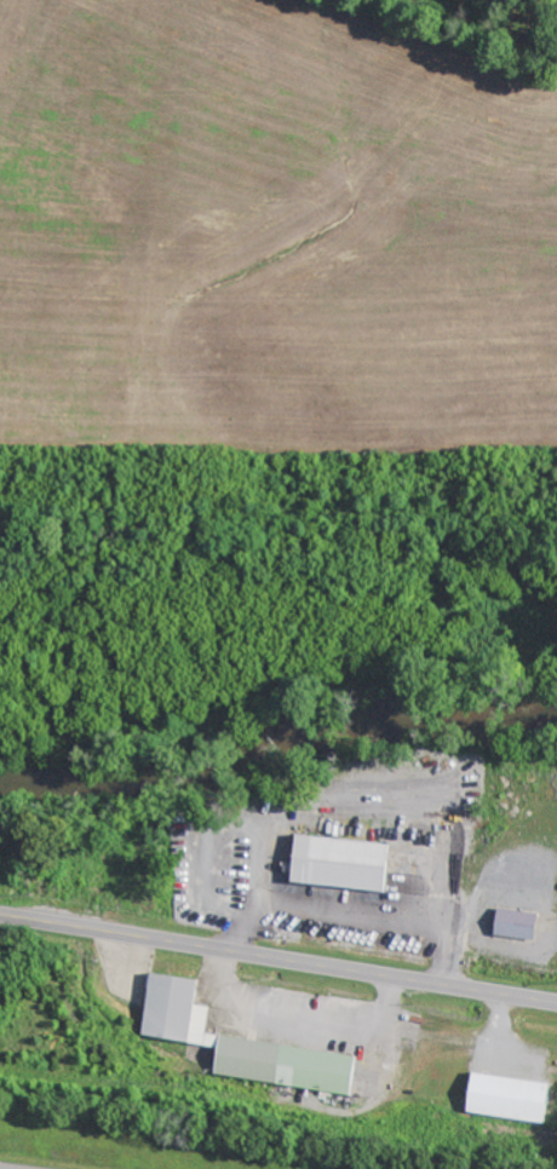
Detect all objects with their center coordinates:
building: (338, 863)
building: (513, 923)
road: (278, 958)
building: (237, 1043)
building: (504, 1098)

